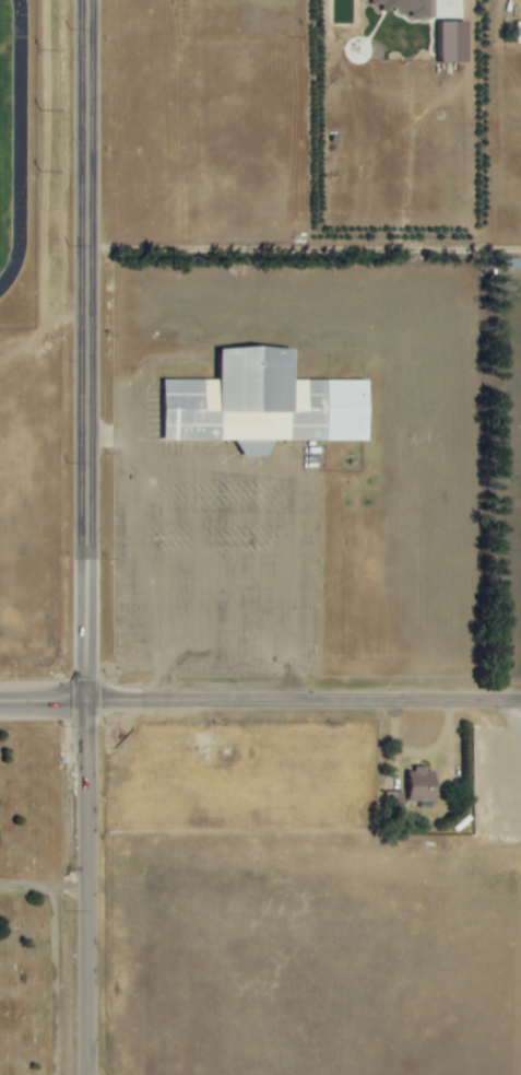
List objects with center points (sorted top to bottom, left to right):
building: (398, 7)
power tower: (69, 30)
building: (516, 32)
building: (445, 40)
park: (1, 103)
road: (20, 147)
power tower: (69, 246)
building: (256, 402)
power tower: (68, 458)
road: (168, 530)
road: (87, 537)
power tower: (67, 676)
road: (260, 700)
building: (413, 784)
building: (393, 801)
road: (44, 886)
power tower: (67, 910)
road: (55, 980)

